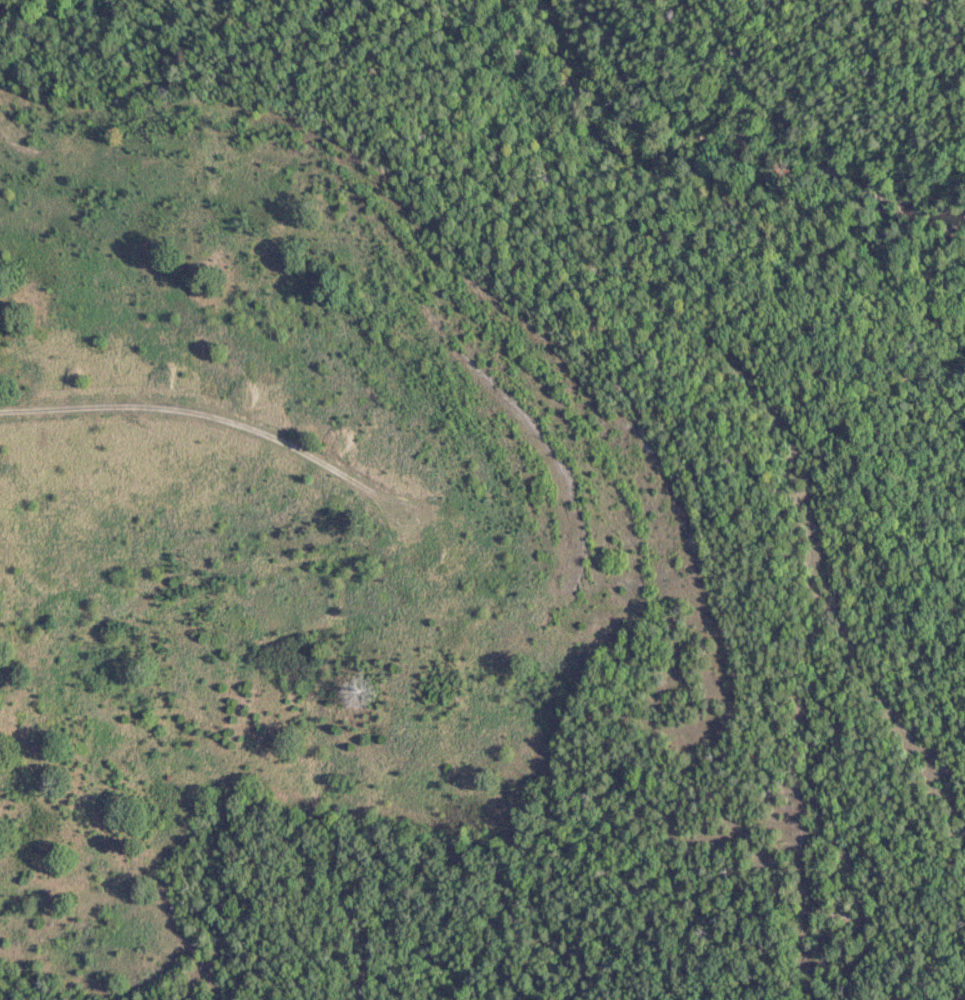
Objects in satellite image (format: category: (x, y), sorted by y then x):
road: (194, 410)
road: (417, 526)

